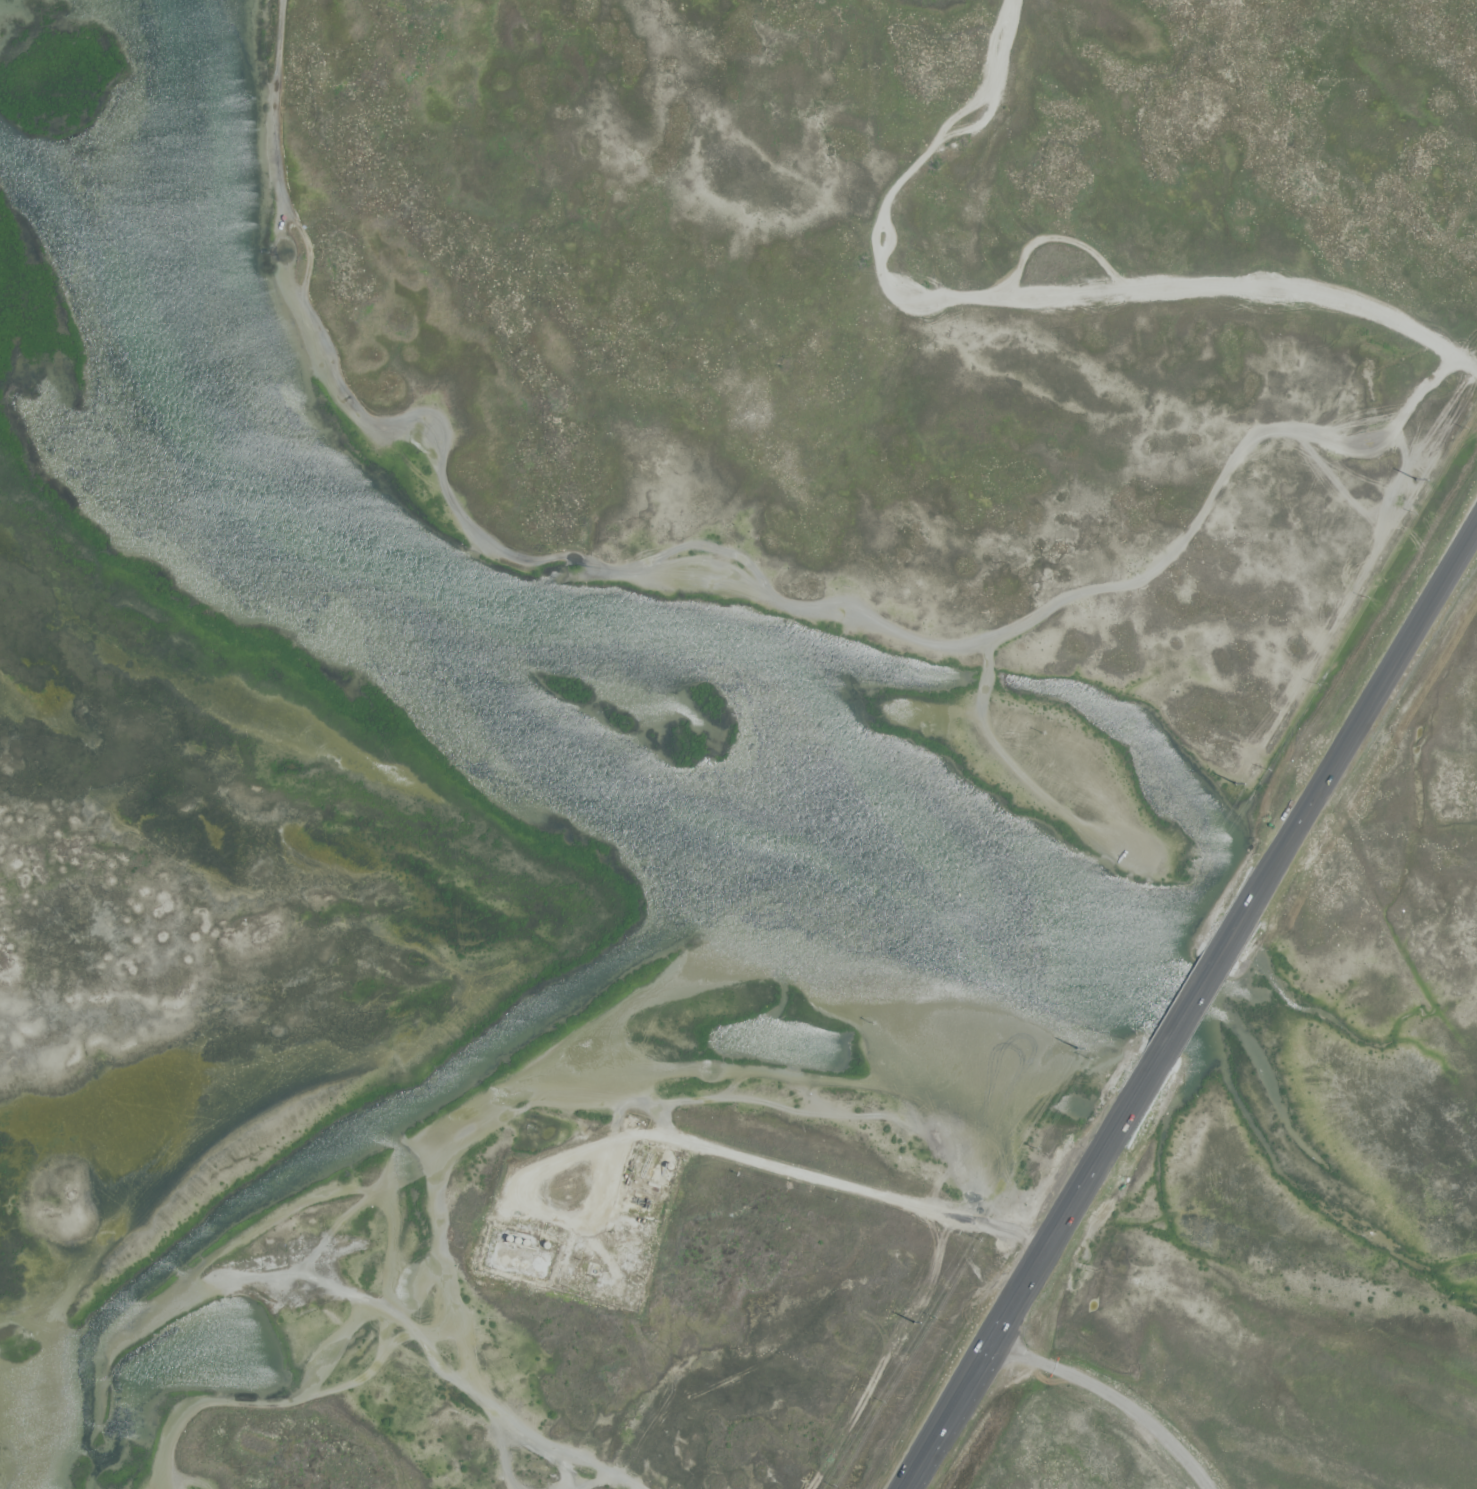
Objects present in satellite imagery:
park: (902, 315)
road: (1468, 365)
power tower: (1418, 480)
road: (1351, 748)
power tower: (1236, 784)
park: (1422, 808)
road: (1197, 1006)
power tower: (1078, 1049)
road: (1129, 1118)
road: (1040, 1263)
park: (563, 1282)
park: (1301, 1305)
power tower: (914, 1324)
road: (960, 1395)
road: (1114, 1398)
park: (1070, 1453)
road: (916, 1468)

